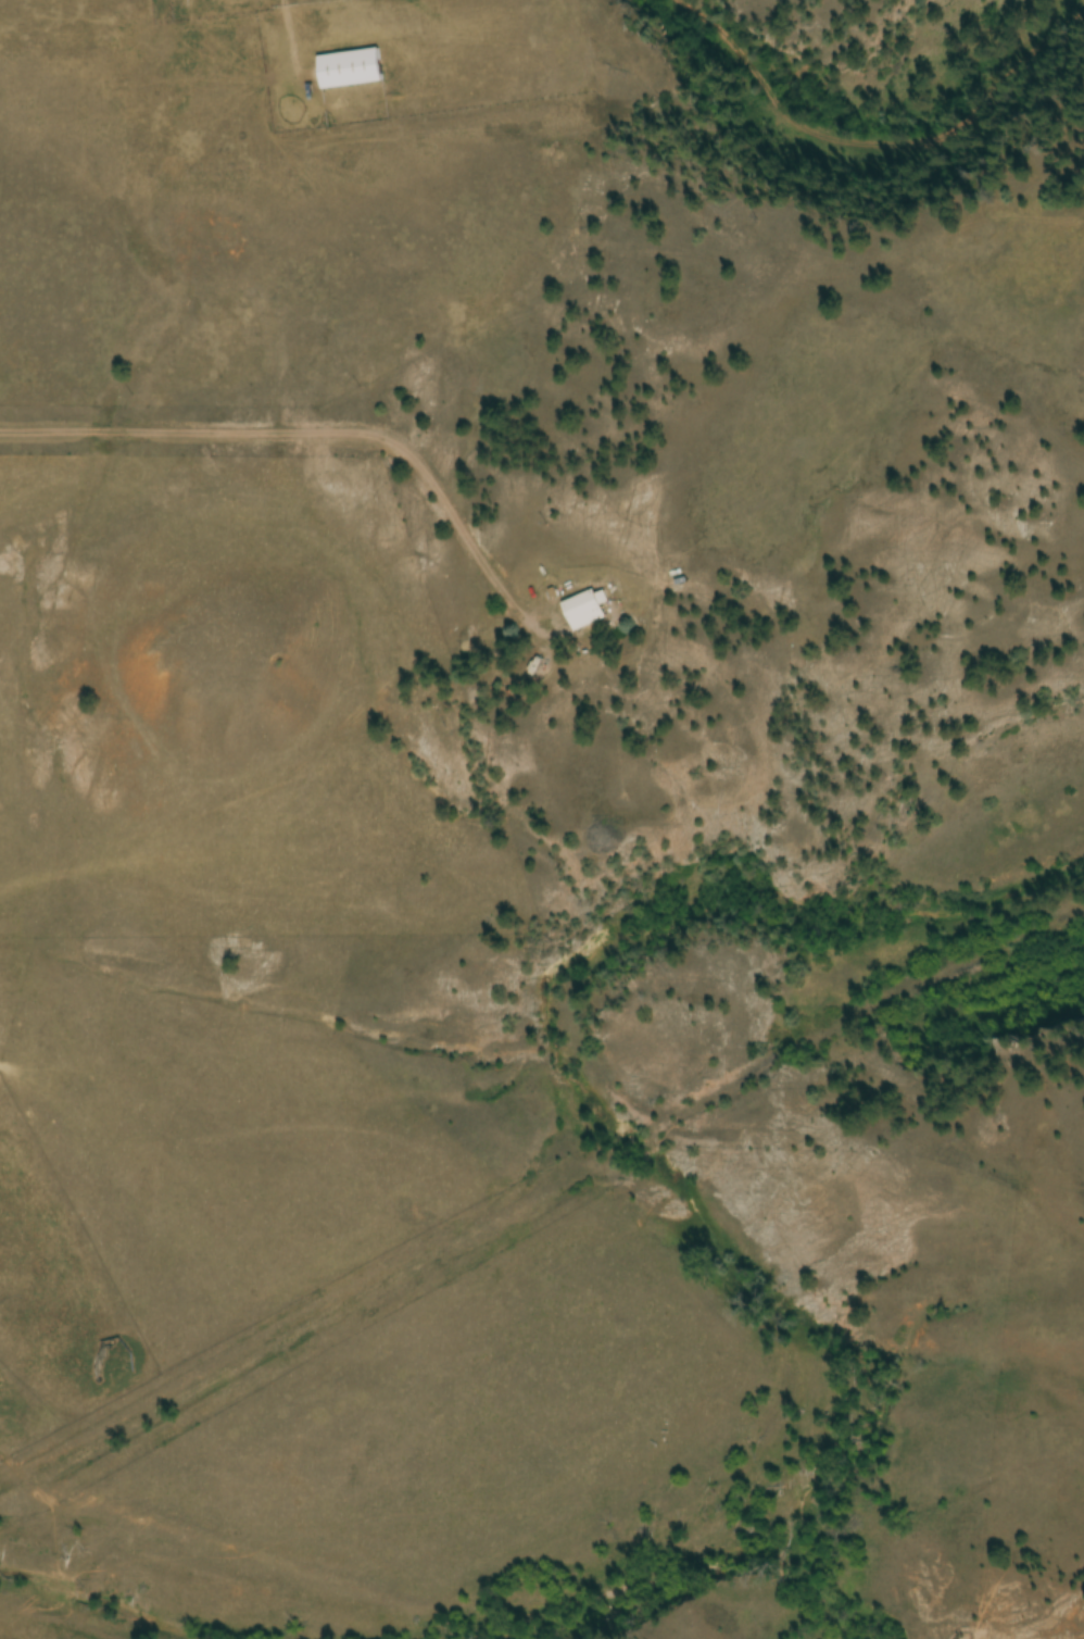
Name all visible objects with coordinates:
building: (349, 71)
building: (584, 612)

